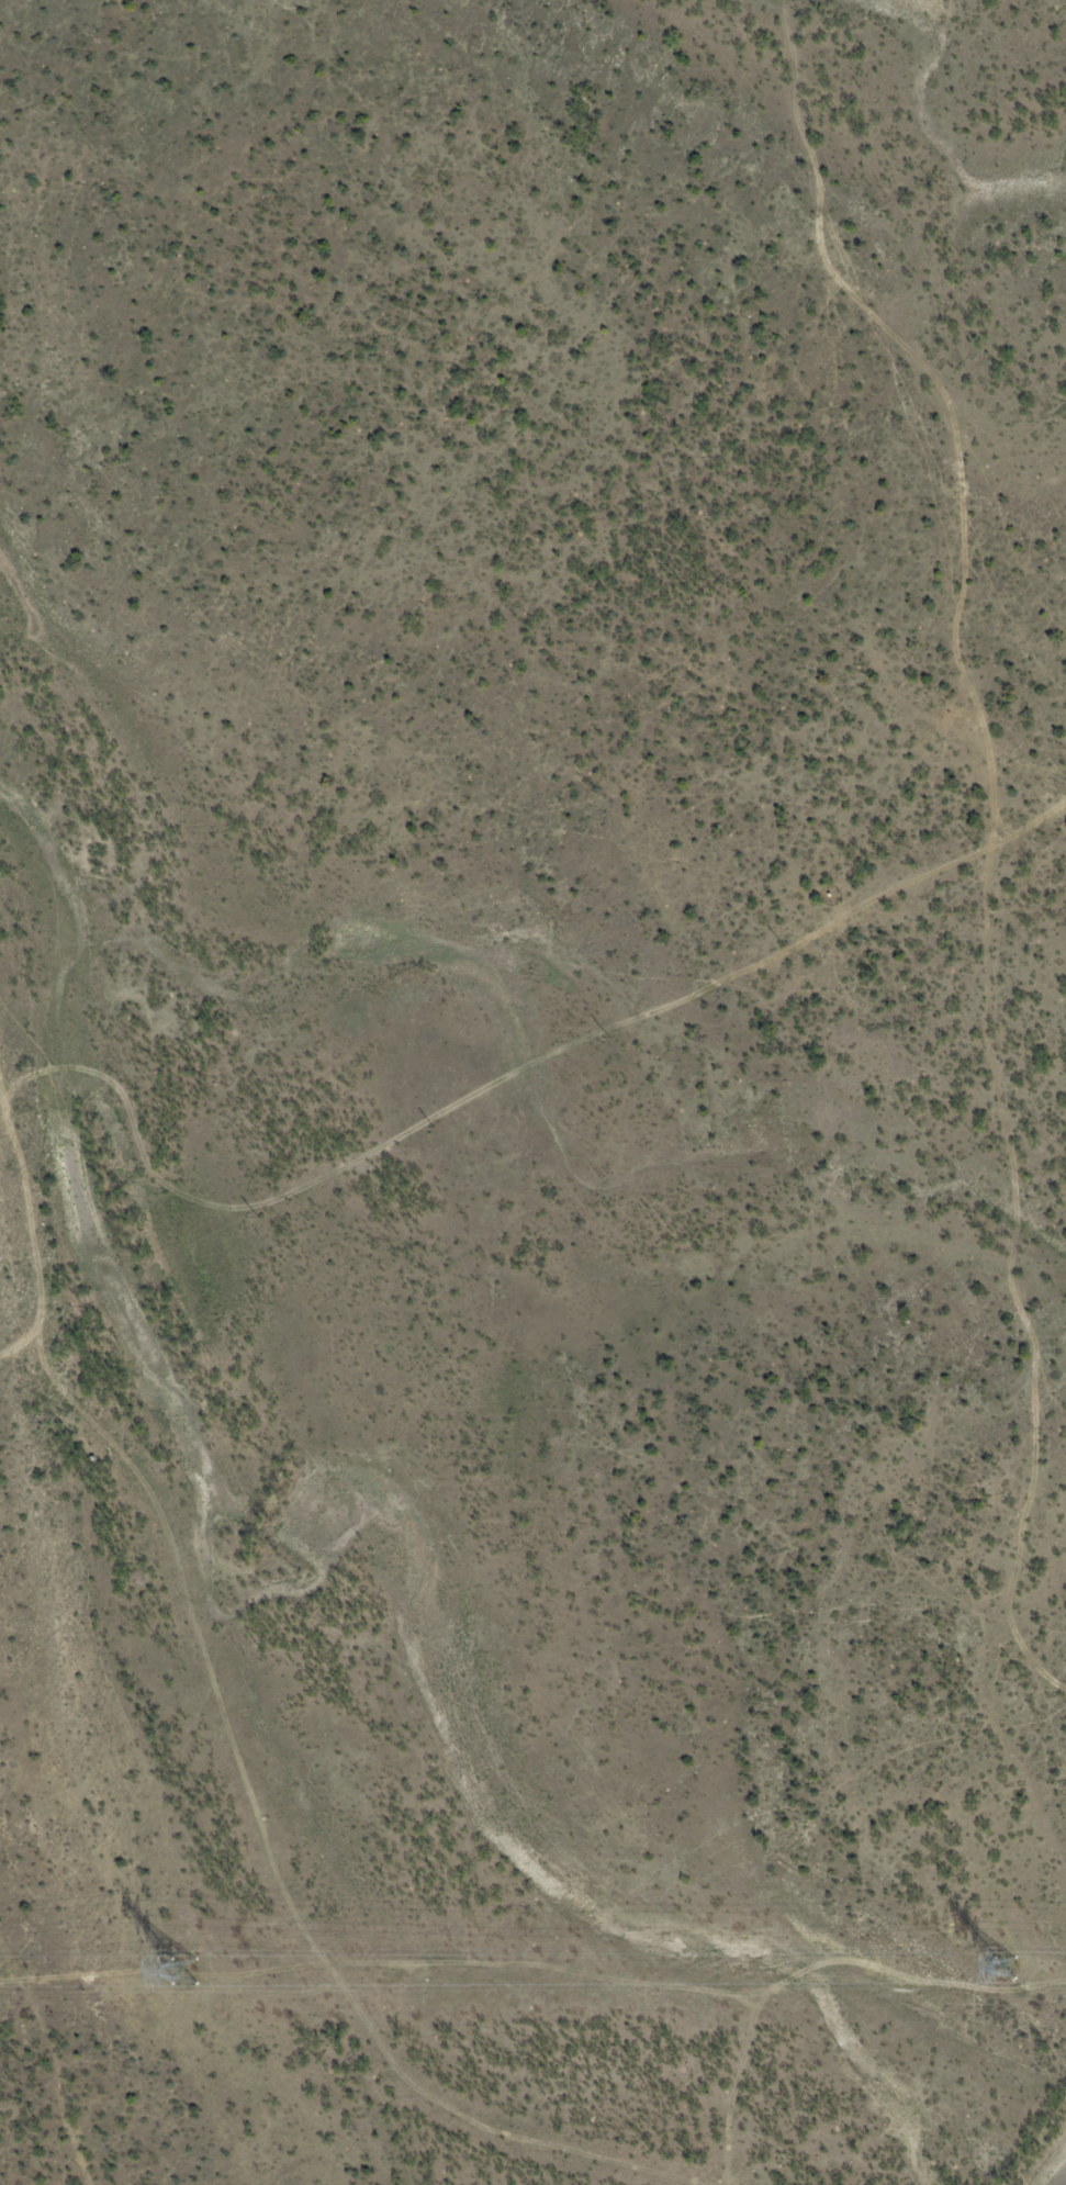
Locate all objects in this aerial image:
power tower: (1006, 1966)
power tower: (183, 1969)
road: (32, 2124)

